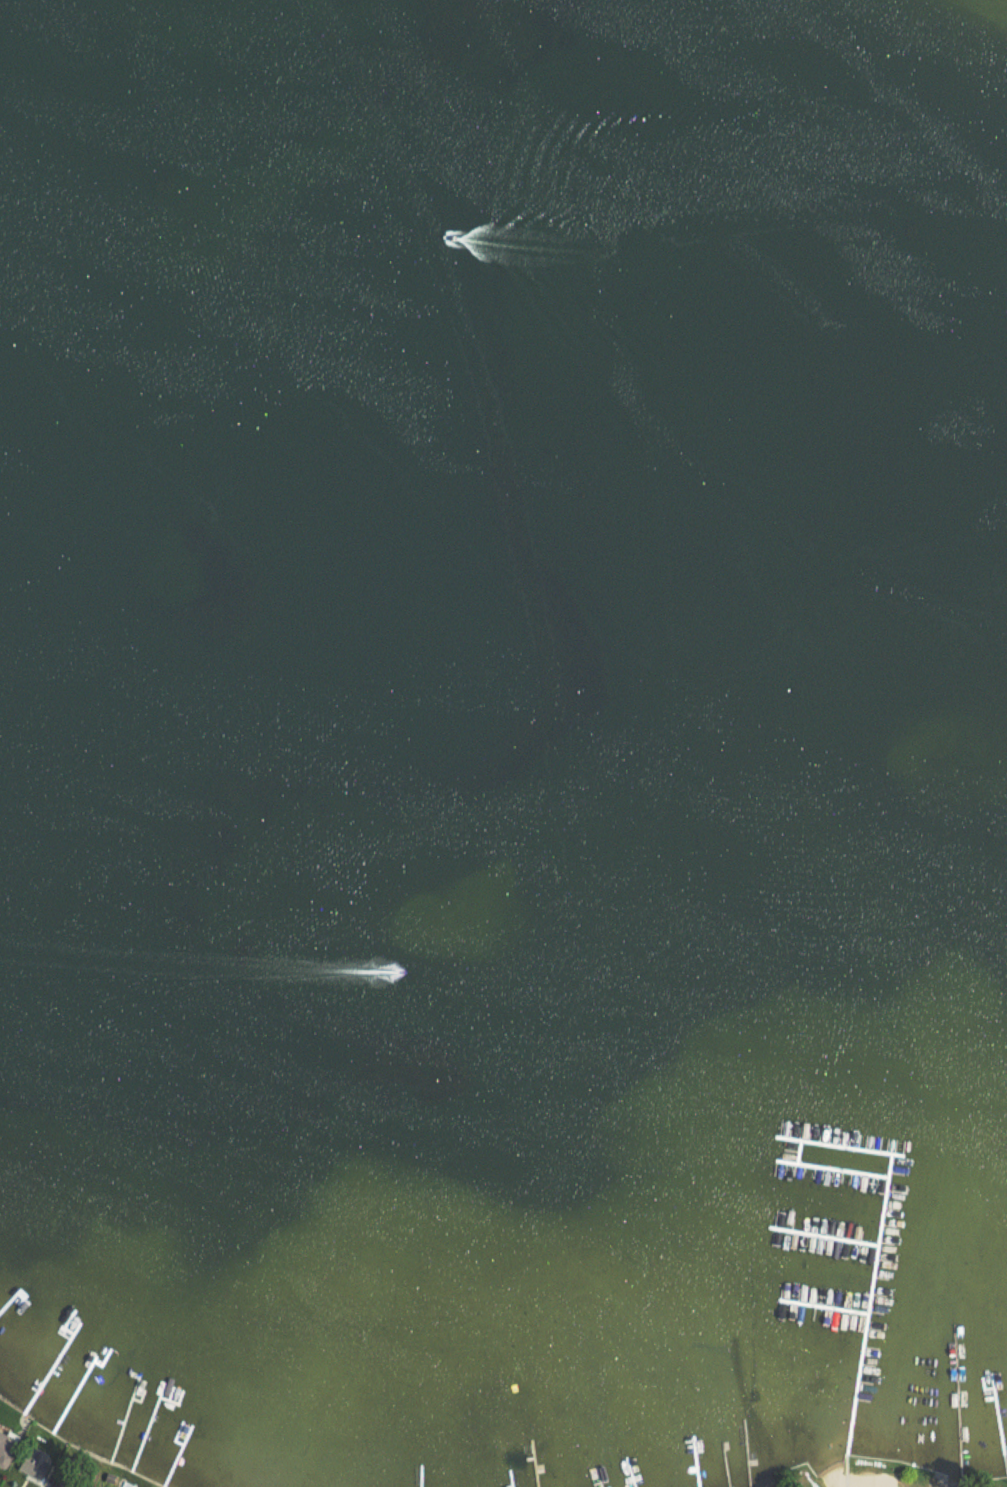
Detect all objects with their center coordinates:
building: (1, 1433)
building: (5, 1456)
building: (31, 1460)

